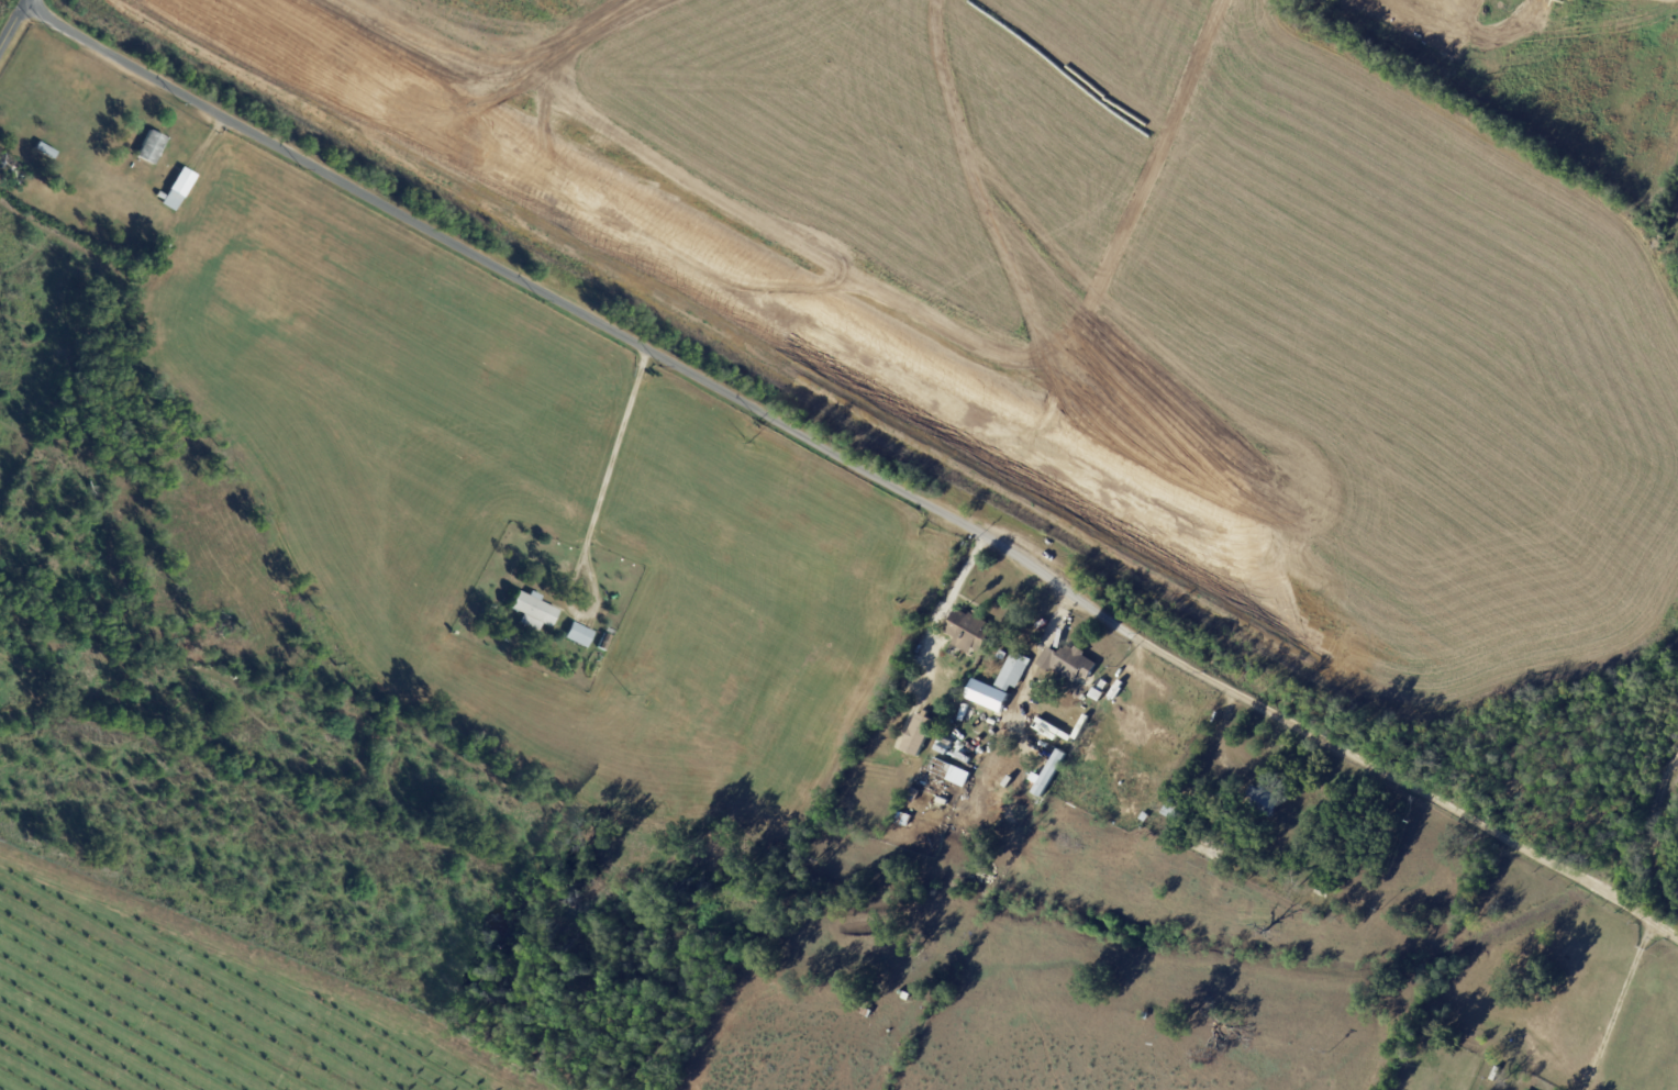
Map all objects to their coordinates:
building: (1520, 9)
road: (15, 27)
building: (153, 149)
building: (46, 153)
building: (62, 162)
building: (12, 174)
building: (178, 191)
building: (58, 222)
quarry: (1100, 291)
road: (856, 467)
road: (612, 474)
building: (534, 611)
road: (943, 611)
building: (970, 632)
building: (580, 635)
building: (604, 643)
building: (1070, 663)
building: (1014, 671)
building: (986, 694)
building: (919, 734)
building: (1048, 772)
building: (1267, 800)
building: (1170, 808)
building: (1145, 818)
building: (1243, 875)
building: (1324, 894)
building: (907, 997)
crop: (197, 1004)
road: (1615, 1008)
building: (1146, 1016)
building: (1498, 1075)

